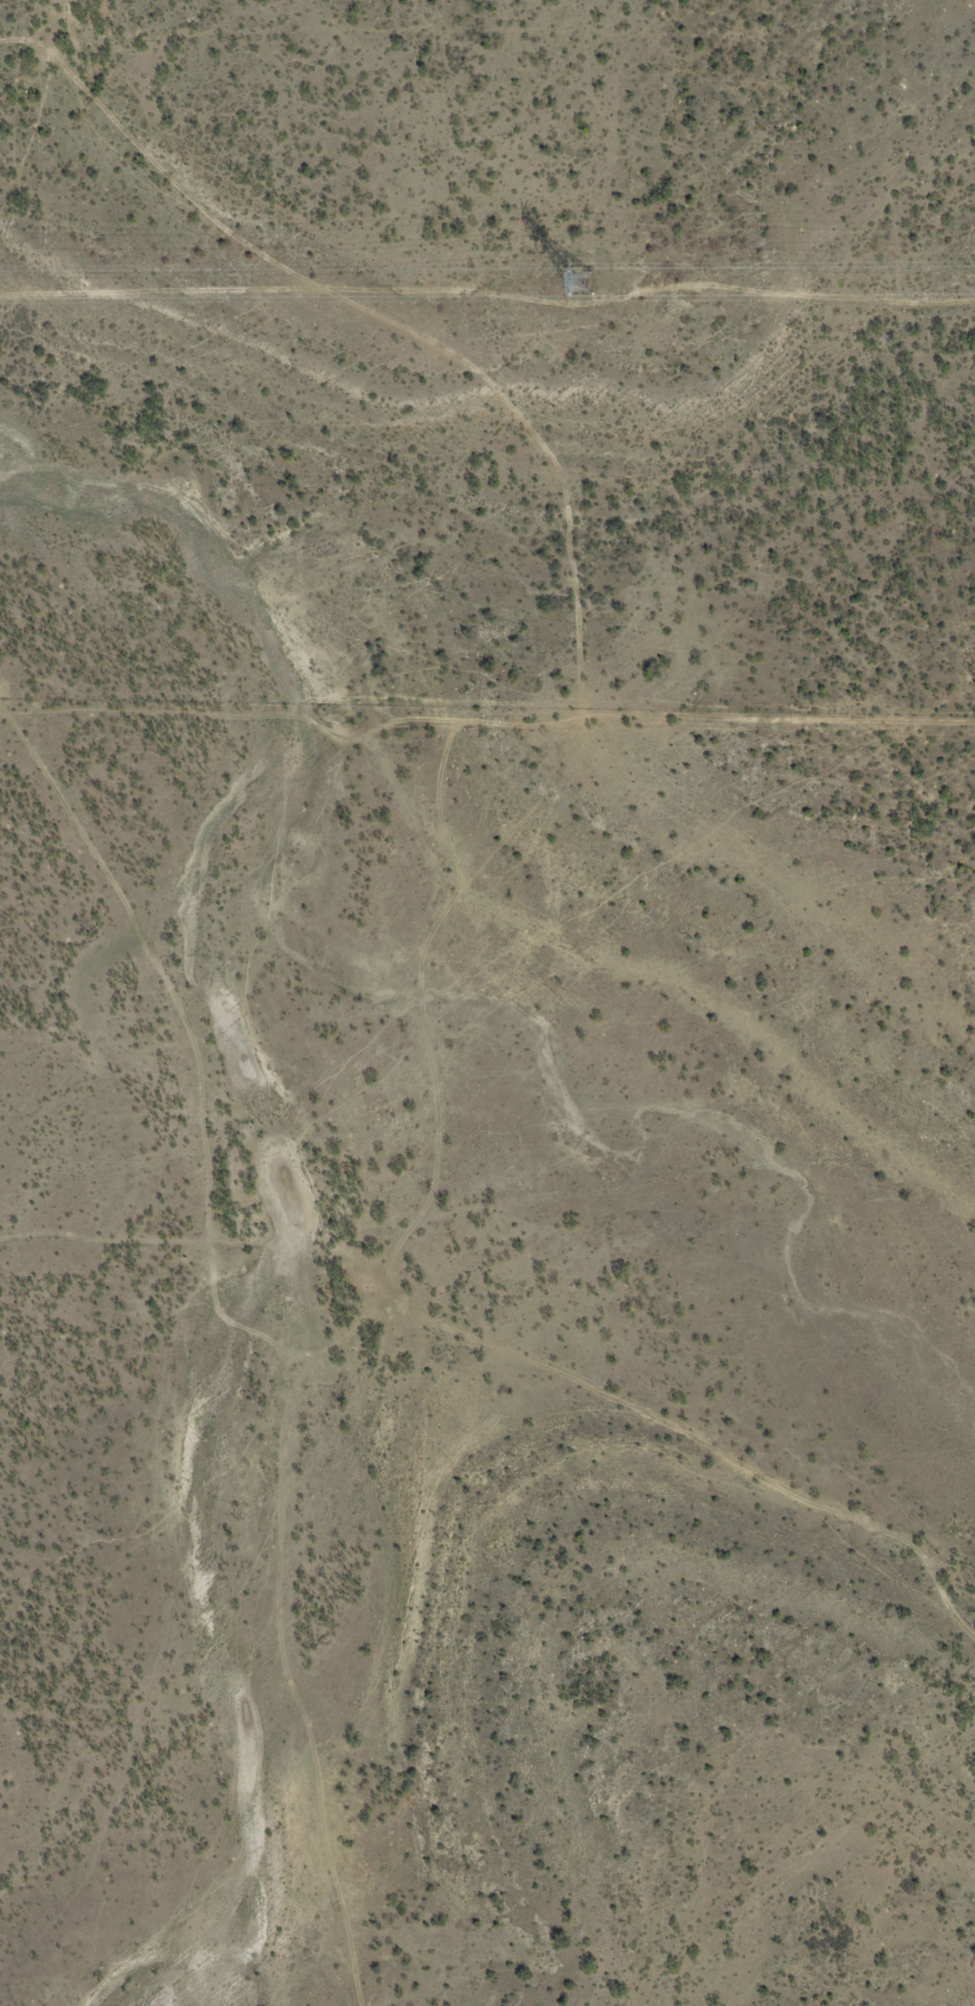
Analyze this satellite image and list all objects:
power tower: (581, 281)
road: (937, 451)
road: (495, 1207)

